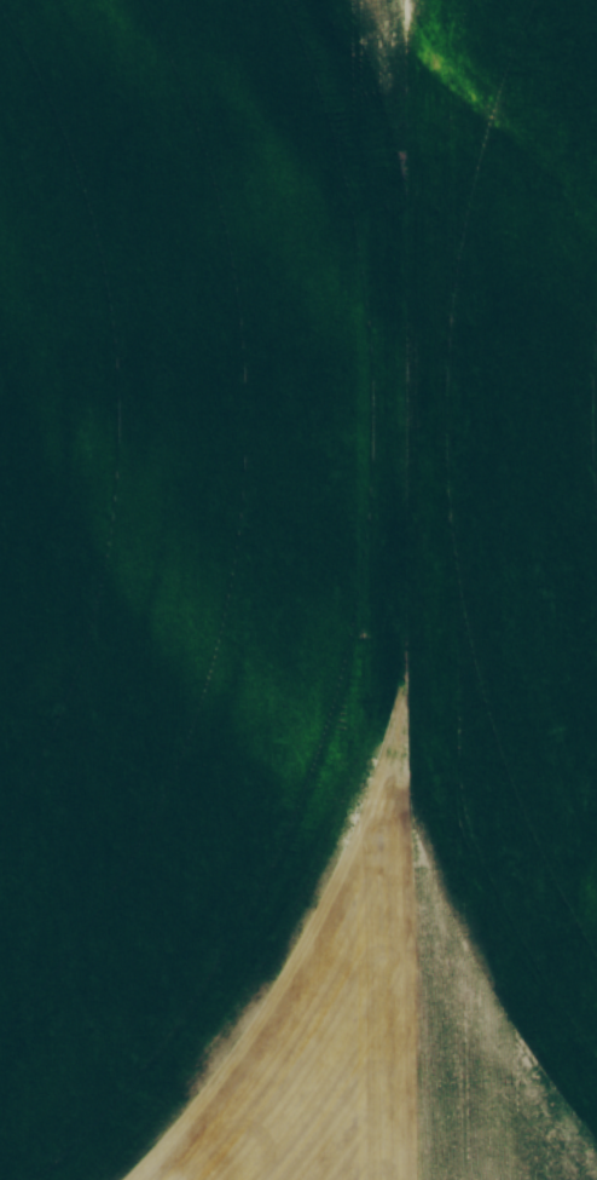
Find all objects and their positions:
crop: (286, 528)

